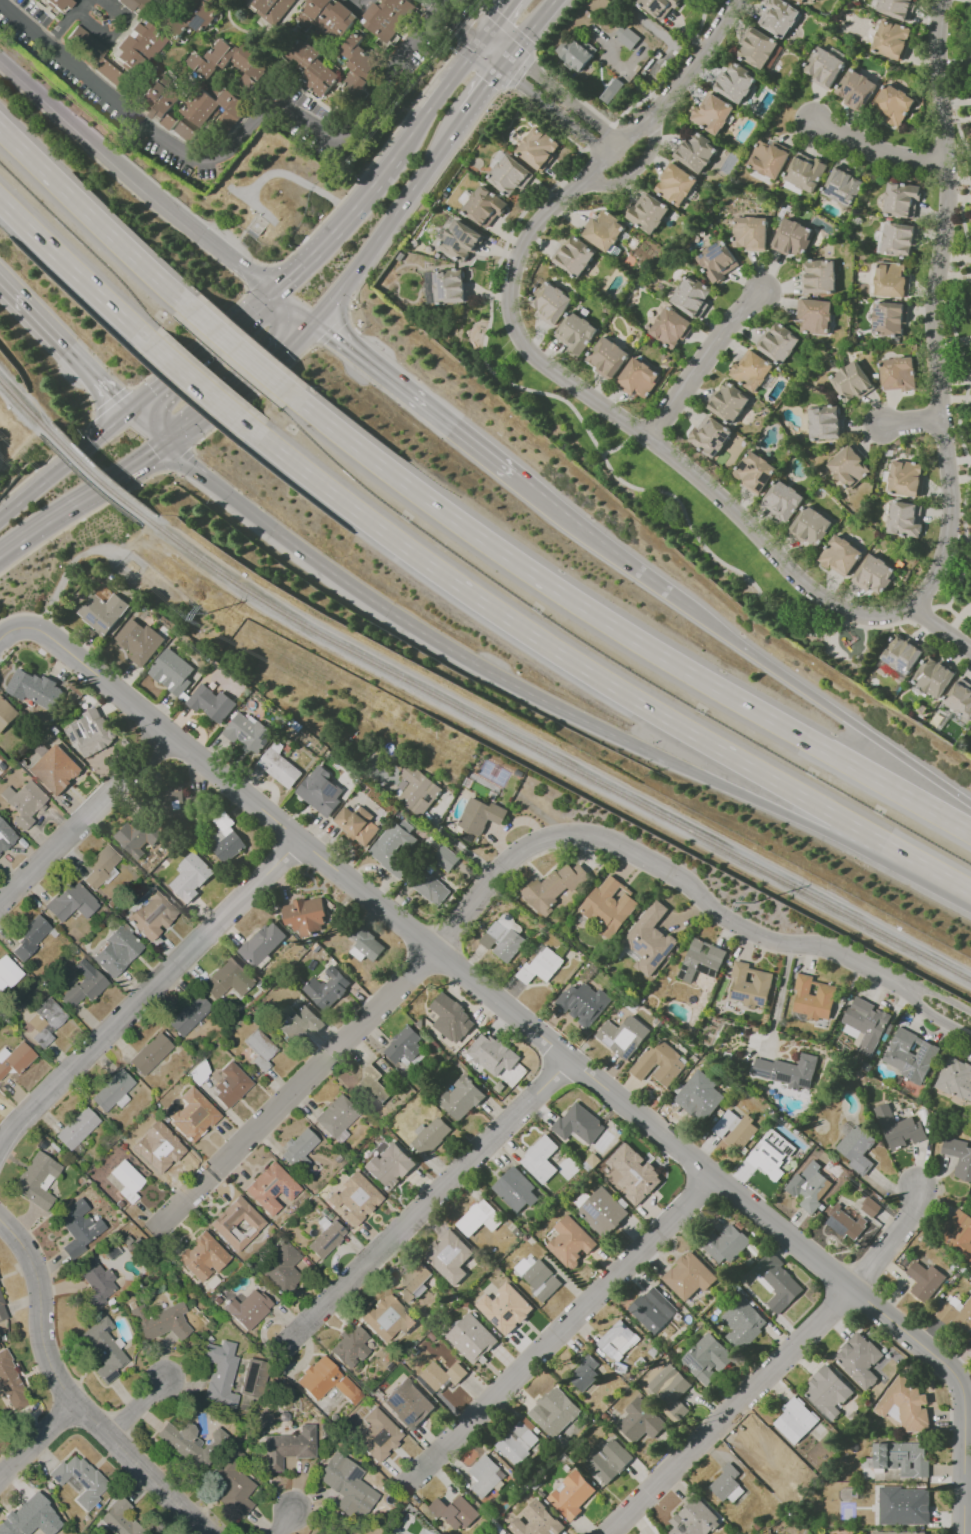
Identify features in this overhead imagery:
building: (801, 0)
road: (482, 1)
road: (78, 3)
building: (58, 4)
rooftop solar panel: (655, 5)
road: (428, 7)
building: (658, 7)
building: (896, 8)
building: (270, 9)
road: (358, 10)
building: (387, 17)
building: (778, 17)
building: (188, 18)
building: (326, 18)
road: (499, 18)
road: (468, 19)
rooftop solar panel: (196, 24)
road: (554, 25)
road: (59, 26)
road: (507, 27)
road: (530, 29)
road: (476, 31)
road: (115, 35)
traffic signals: (484, 37)
building: (891, 39)
building: (756, 48)
building: (119, 51)
building: (575, 53)
traffic signals: (506, 59)
building: (207, 63)
building: (357, 64)
building: (311, 66)
building: (823, 66)
road: (520, 70)
building: (735, 82)
road: (485, 86)
building: (854, 88)
rooftop solar panel: (849, 89)
road: (441, 90)
road: (103, 93)
road: (565, 97)
rooftop solar panel: (857, 98)
building: (894, 103)
building: (158, 104)
building: (214, 107)
road: (554, 112)
building: (712, 112)
building: (185, 129)
road: (338, 130)
road: (88, 142)
building: (537, 148)
building: (696, 151)
road: (875, 158)
building: (768, 159)
road: (367, 164)
building: (805, 171)
building: (509, 175)
road: (296, 178)
building: (675, 184)
building: (842, 186)
road: (366, 190)
rooftop solar panel: (833, 191)
building: (901, 199)
road: (253, 204)
building: (484, 205)
building: (647, 212)
road: (96, 219)
road: (389, 220)
building: (603, 230)
building: (750, 232)
rooftop solar panel: (460, 234)
building: (792, 237)
building: (899, 238)
building: (461, 240)
rooftop solar panel: (471, 240)
rooftop solar panel: (452, 242)
rooftop solar panel: (713, 246)
rooftop solar panel: (717, 252)
rooftop solar panel: (721, 253)
building: (573, 256)
road: (225, 257)
building: (717, 261)
road: (299, 263)
road: (75, 273)
road: (256, 276)
building: (819, 276)
rooftop solar panel: (437, 279)
building: (891, 280)
building: (450, 286)
rooftop solar panel: (442, 291)
traffic signals: (270, 294)
building: (691, 295)
building: (550, 302)
road: (290, 309)
building: (814, 315)
building: (889, 318)
traffic signals: (311, 325)
road: (487, 325)
building: (670, 327)
road: (332, 329)
building: (575, 332)
road: (188, 340)
building: (778, 342)
road: (61, 349)
road: (239, 350)
road: (197, 354)
building: (606, 356)
road: (706, 366)
building: (751, 370)
building: (897, 373)
building: (637, 377)
building: (850, 382)
road: (199, 385)
road: (237, 388)
road: (251, 395)
road: (412, 398)
road: (108, 400)
building: (727, 402)
railway: (21, 403)
traffic signals: (124, 414)
building: (824, 422)
road: (909, 425)
road: (142, 431)
rooftop solar panel: (726, 434)
building: (709, 436)
rooftop solar panel: (722, 439)
rooftop solar panel: (715, 442)
road: (616, 448)
traffic signals: (161, 449)
road: (56, 452)
rooftop solar panel: (715, 453)
road: (181, 459)
road: (62, 465)
building: (848, 466)
road: (188, 469)
building: (753, 472)
railway: (94, 474)
building: (905, 477)
park: (640, 483)
road: (79, 500)
building: (781, 500)
road: (83, 517)
building: (904, 518)
building: (810, 526)
road: (603, 543)
building: (839, 555)
road: (781, 569)
building: (873, 574)
road: (948, 607)
power tower: (207, 611)
building: (102, 612)
rooftop solar panel: (89, 617)
road: (47, 618)
rooftop solar panel: (101, 623)
road: (617, 627)
road: (944, 632)
road: (421, 633)
building: (138, 641)
building: (900, 653)
rooftop solar panel: (891, 660)
rooftop solar panel: (904, 667)
building: (171, 671)
building: (933, 675)
road: (596, 676)
building: (34, 688)
building: (959, 698)
building: (210, 703)
road: (832, 708)
building: (6, 713)
road: (479, 731)
building: (90, 732)
building: (247, 733)
rooftop solar panel: (242, 735)
rooftop solar panel: (264, 737)
traffic signals: (643, 750)
railway: (554, 758)
building: (278, 766)
building: (55, 769)
building: (417, 789)
building: (319, 791)
road: (755, 800)
building: (23, 803)
building: (179, 804)
building: (479, 815)
road: (83, 818)
building: (356, 824)
building: (137, 835)
building: (5, 837)
building: (225, 838)
road: (456, 841)
building: (393, 847)
building: (445, 858)
building: (101, 865)
building: (189, 876)
road: (690, 884)
building: (430, 888)
building: (554, 888)
building: (72, 900)
power tower: (759, 904)
building: (609, 905)
building: (152, 914)
building: (304, 915)
building: (30, 937)
building: (502, 938)
building: (649, 939)
building: (261, 943)
rooftop solar panel: (640, 944)
rooftop solar panel: (647, 945)
road: (427, 946)
rooftop solar panel: (637, 947)
rooftop solar panel: (668, 951)
building: (116, 952)
rooftop solar panel: (659, 957)
building: (701, 960)
building: (539, 966)
building: (6, 971)
building: (228, 979)
building: (326, 987)
road: (147, 992)
rooftop solar panel: (739, 993)
road: (781, 995)
rooftop solar panel: (761, 998)
building: (812, 998)
building: (582, 1003)
building: (76, 1007)
building: (188, 1015)
building: (450, 1019)
building: (296, 1021)
building: (864, 1024)
building: (622, 1036)
rooftop solar panel: (606, 1041)
building: (403, 1045)
building: (259, 1049)
building: (152, 1052)
rooftop solar panel: (631, 1052)
rooftop solar panel: (923, 1053)
building: (909, 1054)
building: (15, 1057)
building: (496, 1058)
building: (664, 1063)
rooftop solar panel: (908, 1065)
building: (789, 1071)
rooftop solar panel: (913, 1073)
building: (956, 1079)
building: (230, 1085)
building: (372, 1086)
road: (300, 1087)
building: (113, 1088)
building: (461, 1098)
building: (695, 1099)
building: (192, 1115)
building: (335, 1116)
building: (578, 1124)
building: (76, 1128)
building: (898, 1128)
building: (735, 1131)
building: (430, 1135)
rooftop solar panel: (601, 1141)
building: (856, 1148)
building: (299, 1149)
building: (773, 1151)
building: (165, 1156)
building: (959, 1156)
building: (547, 1159)
building: (388, 1166)
building: (633, 1173)
building: (40, 1175)
building: (126, 1180)
building: (810, 1187)
building: (270, 1188)
building: (520, 1188)
rooftop solar panel: (273, 1190)
rooftop solar panel: (284, 1190)
rooftop solar panel: (294, 1193)
building: (353, 1199)
road: (427, 1203)
building: (870, 1206)
rooftop solar panel: (589, 1209)
building: (602, 1211)
building: (478, 1218)
building: (846, 1222)
building: (236, 1224)
building: (77, 1228)
rooftop solar panel: (338, 1230)
building: (958, 1234)
building: (325, 1238)
rooftop solar panel: (325, 1241)
road: (888, 1241)
building: (570, 1242)
building: (725, 1244)
building: (449, 1256)
building: (202, 1257)
building: (281, 1268)
building: (688, 1276)
building: (779, 1280)
building: (926, 1281)
building: (412, 1282)
building: (548, 1282)
building: (95, 1283)
building: (516, 1303)
building: (247, 1309)
building: (653, 1311)
building: (957, 1313)
building: (2, 1314)
building: (387, 1318)
building: (742, 1318)
building: (160, 1321)
road: (559, 1332)
building: (477, 1337)
building: (616, 1340)
building: (349, 1347)
rooftop solar panel: (108, 1348)
building: (103, 1349)
building: (708, 1358)
building: (858, 1359)
rooftop solar panel: (694, 1361)
building: (583, 1373)
building: (220, 1374)
building: (250, 1377)
building: (439, 1377)
building: (325, 1381)
building: (9, 1383)
building: (669, 1386)
road: (960, 1388)
building: (827, 1392)
road: (68, 1396)
rooftop solar panel: (391, 1400)
building: (407, 1404)
building: (904, 1405)
road: (137, 1410)
building: (553, 1411)
road: (730, 1412)
rooftop solar panel: (406, 1418)
building: (794, 1420)
building: (641, 1421)
building: (377, 1435)
building: (1, 1437)
building: (517, 1441)
building: (189, 1442)
road: (37, 1443)
building: (287, 1447)
building: (761, 1449)
rooftop solar panel: (602, 1455)
rooftop solar panel: (913, 1456)
rooftop solar panel: (900, 1457)
building: (901, 1457)
building: (608, 1459)
building: (484, 1475)
building: (79, 1480)
building: (727, 1480)
building: (232, 1483)
building: (341, 1483)
road: (970, 1493)
building: (573, 1494)
building: (914, 1501)
building: (454, 1512)
building: (23, 1514)
building: (695, 1518)
building: (118, 1519)
building: (537, 1521)
road: (286, 1522)
building: (897, 1532)

